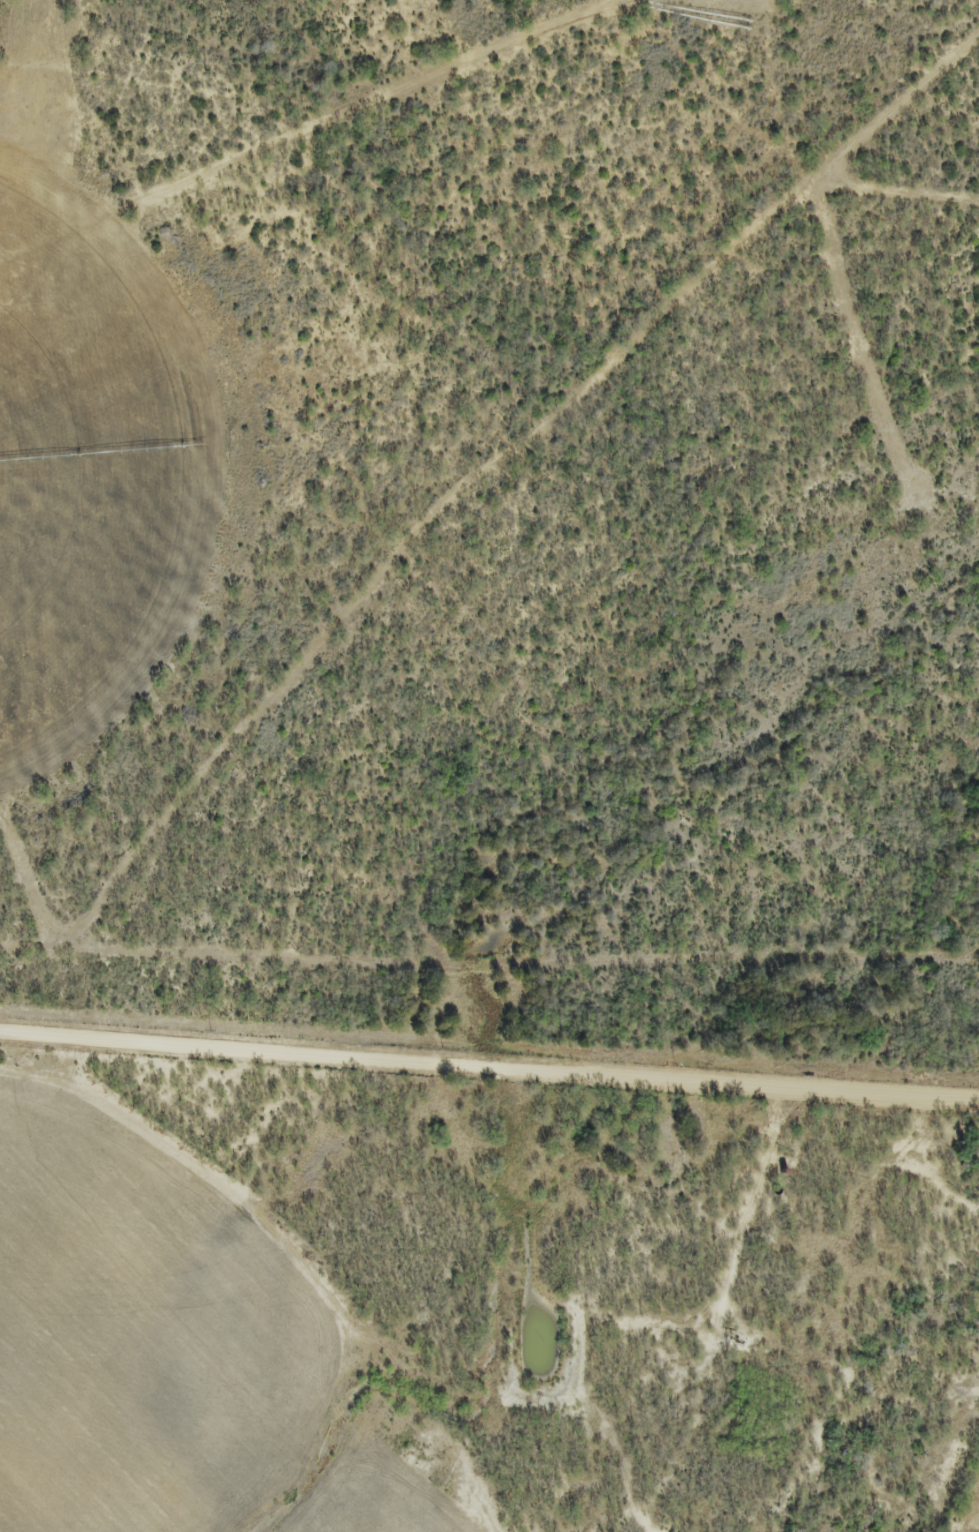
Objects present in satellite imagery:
road: (326, 128)
road: (483, 521)
road: (489, 1061)

